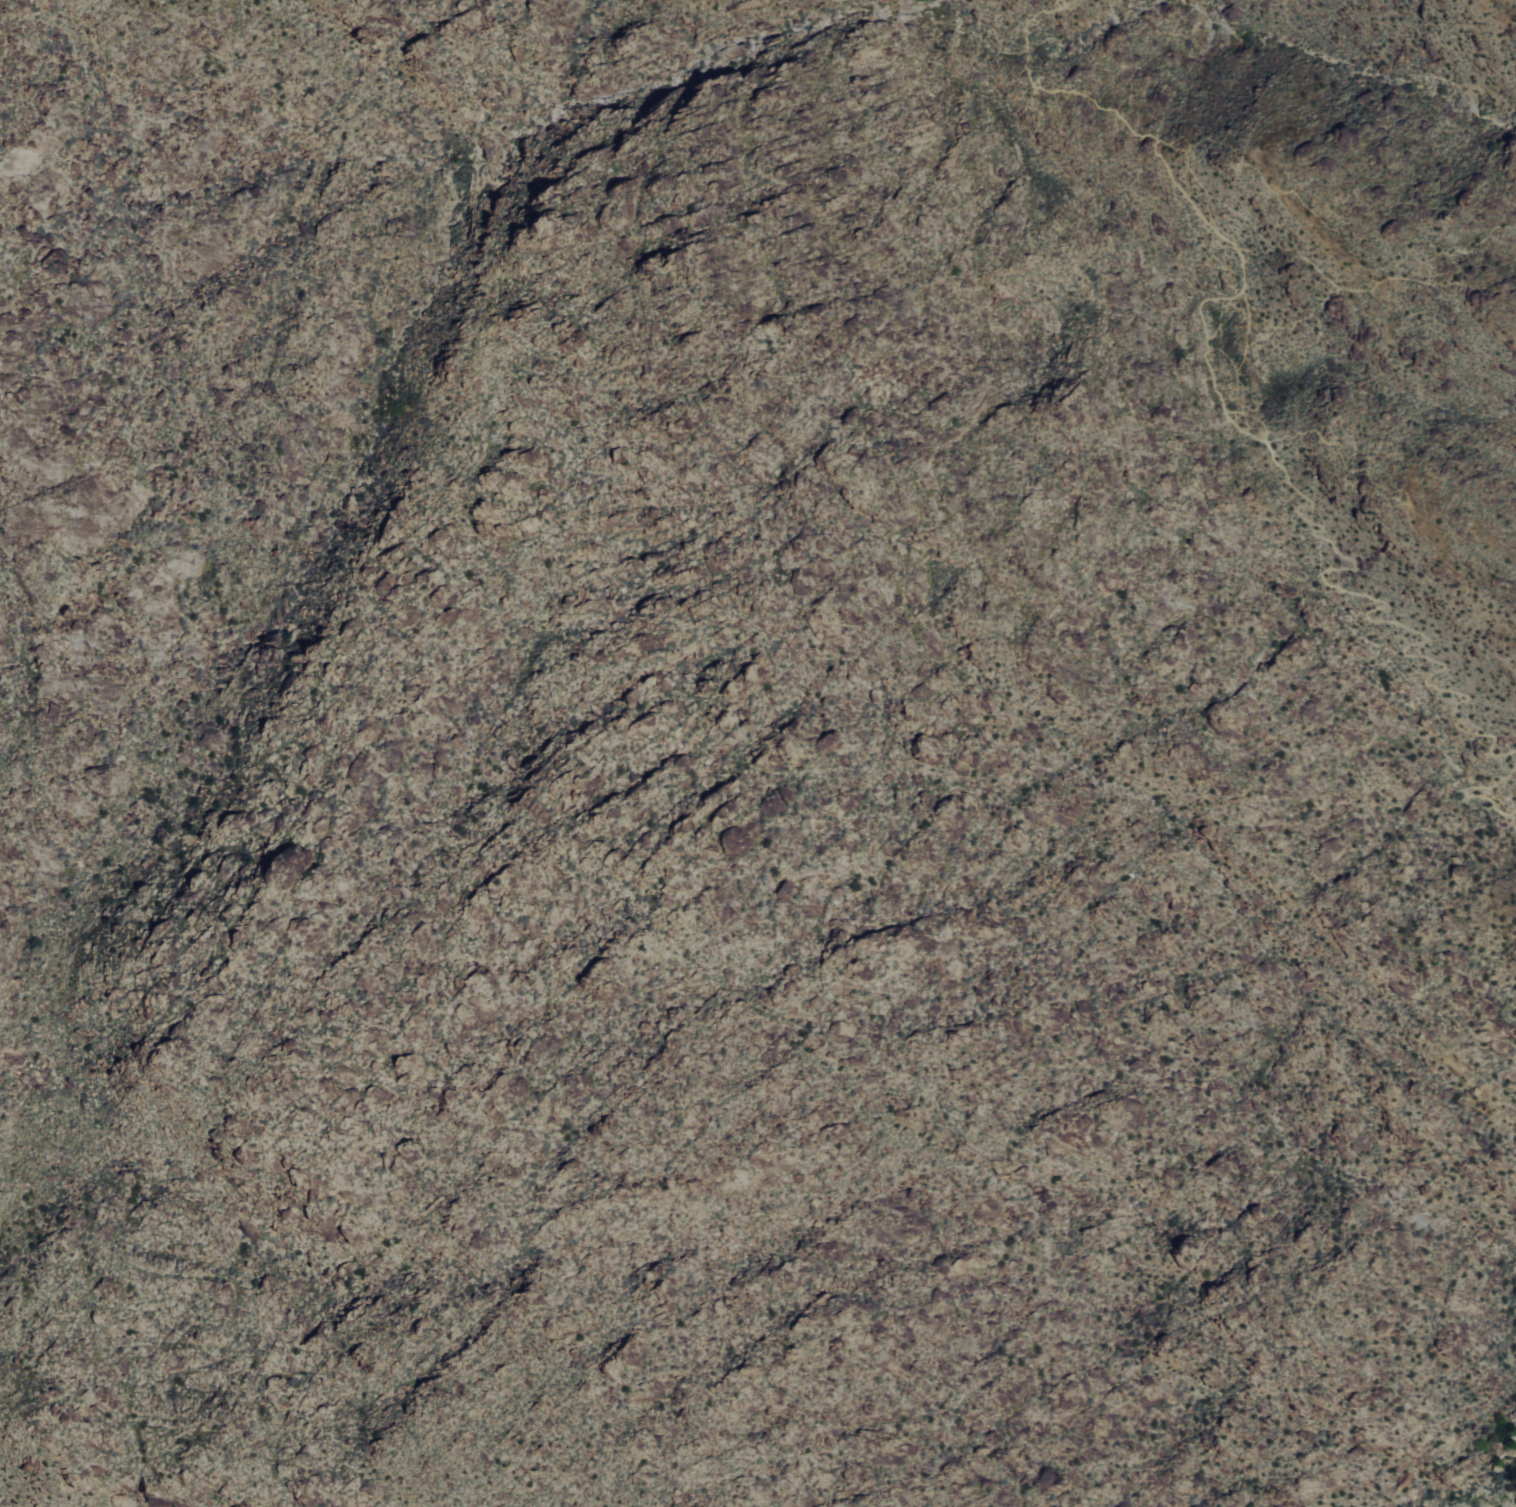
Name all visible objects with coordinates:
road: (1222, 236)
road: (1334, 586)
road: (1493, 795)

